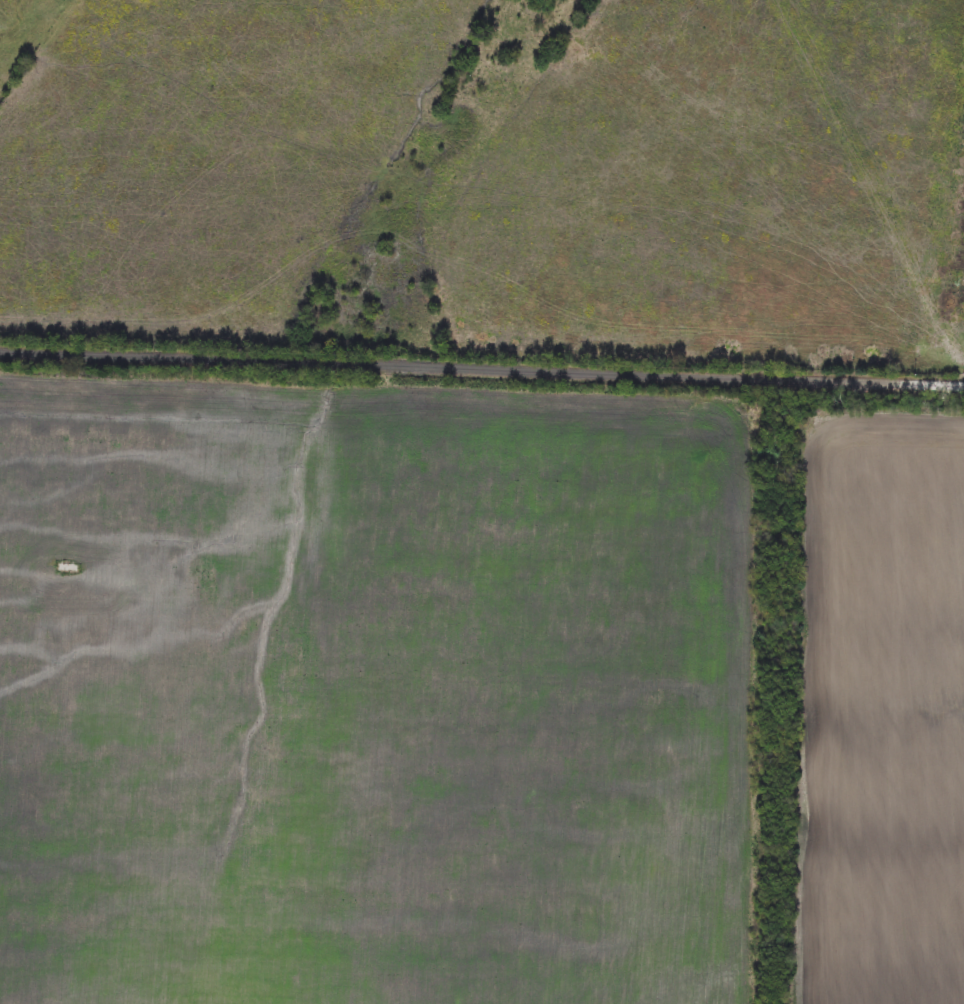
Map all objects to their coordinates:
road: (482, 365)
building: (68, 569)

